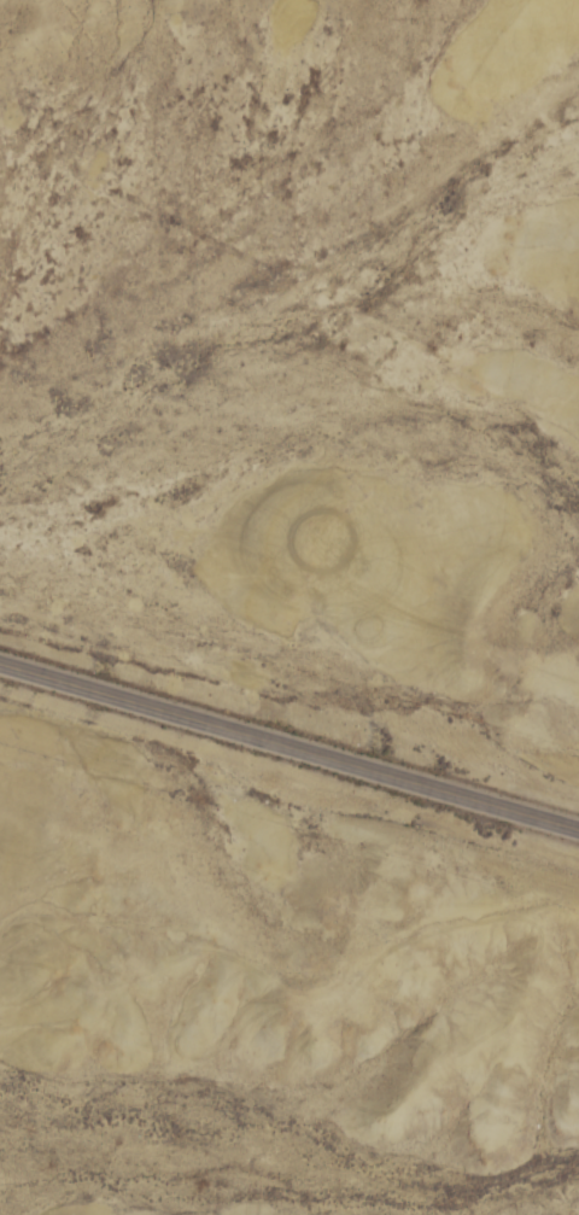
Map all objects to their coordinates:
road: (289, 747)
road: (21, 1209)

